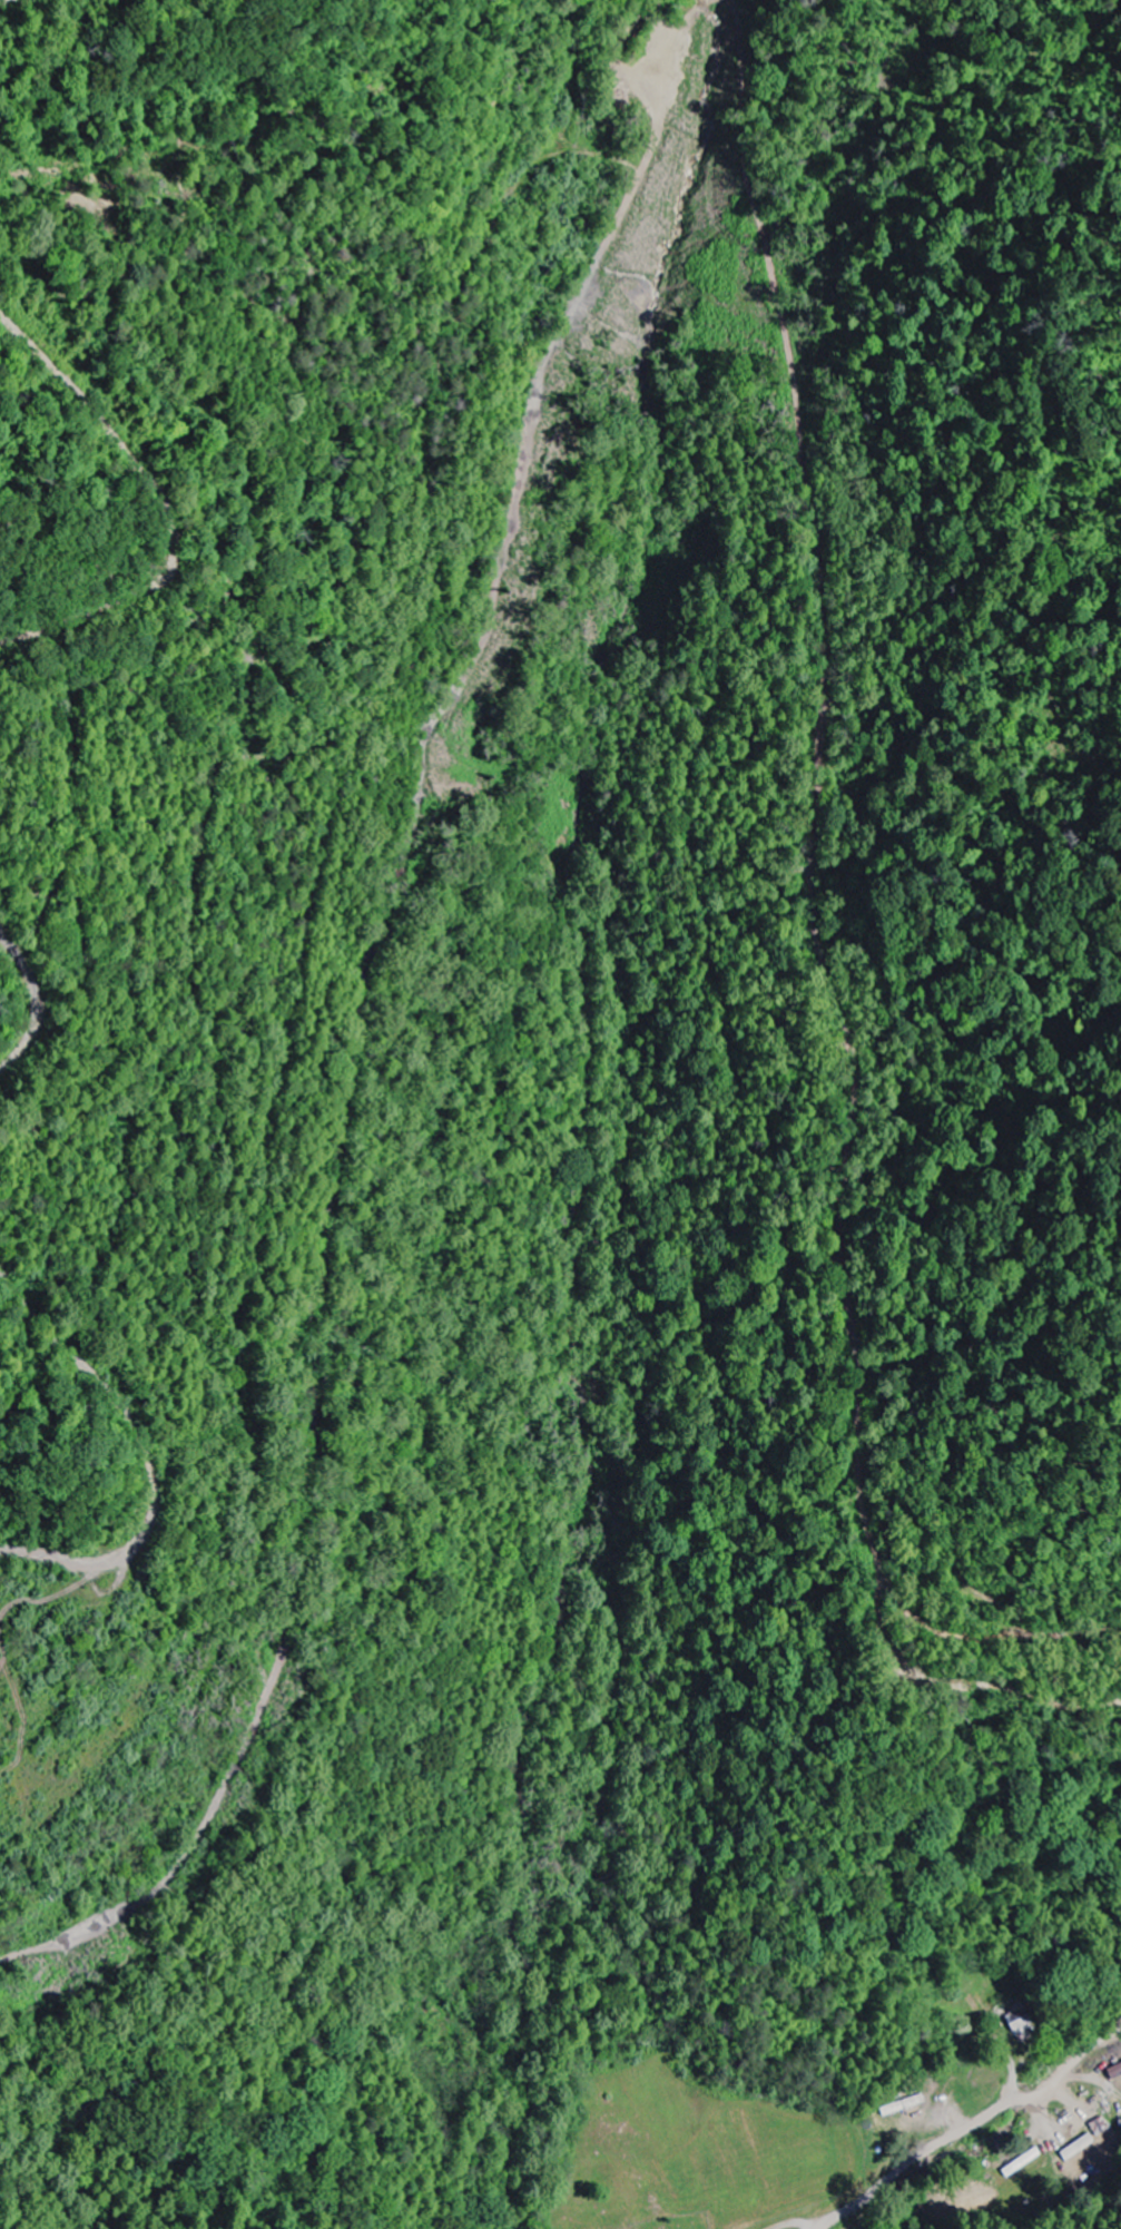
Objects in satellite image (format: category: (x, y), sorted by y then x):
building: (892, 2108)
building: (1099, 2127)
road: (961, 2129)
building: (1076, 2147)

